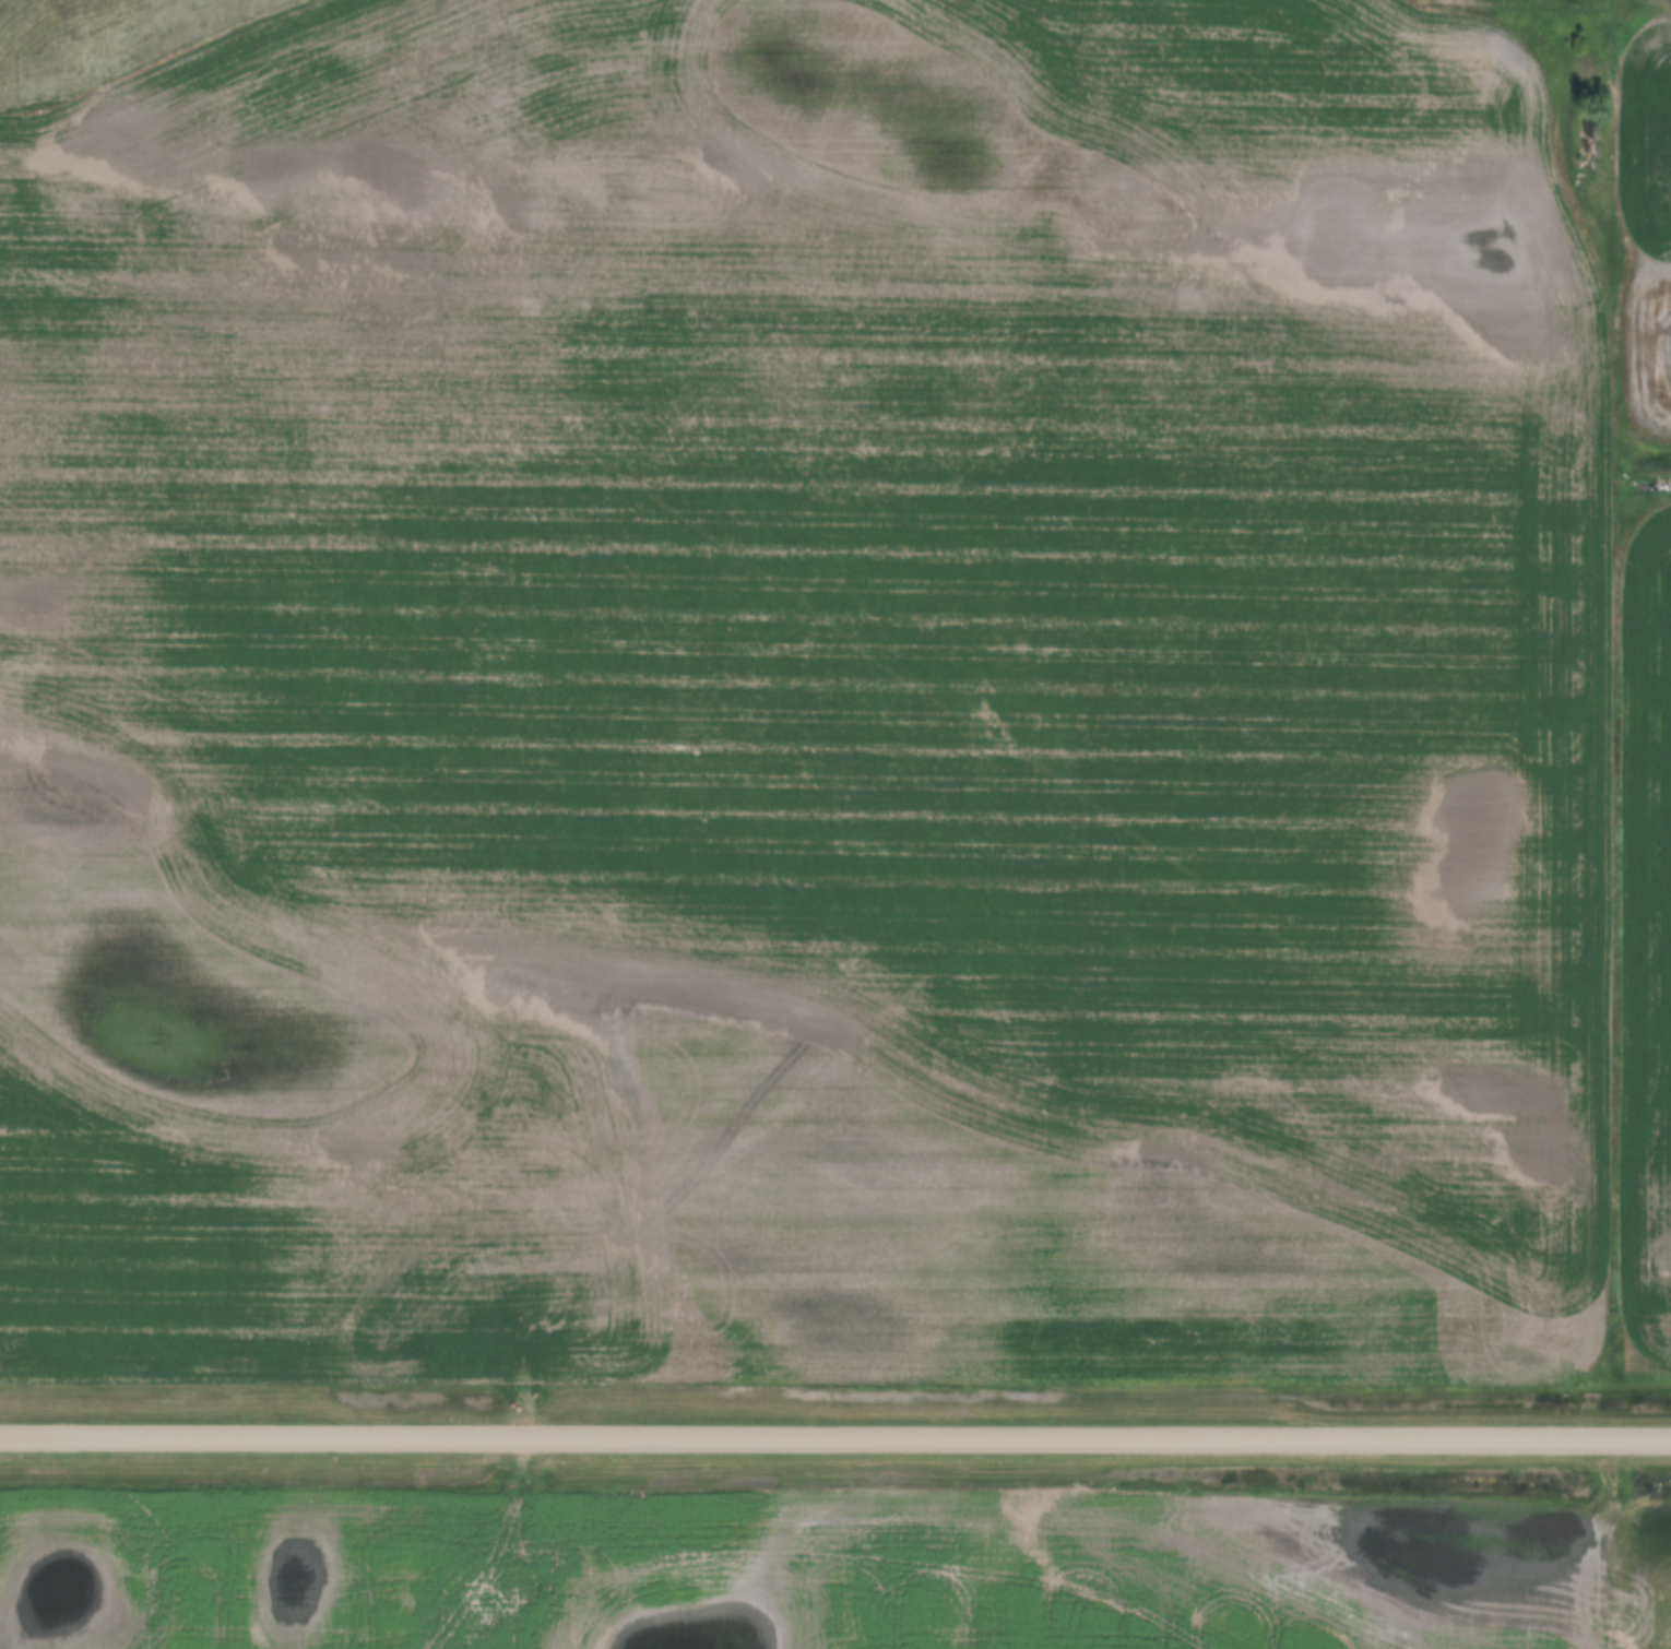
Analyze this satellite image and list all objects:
road: (1609, 720)
road: (835, 1439)

